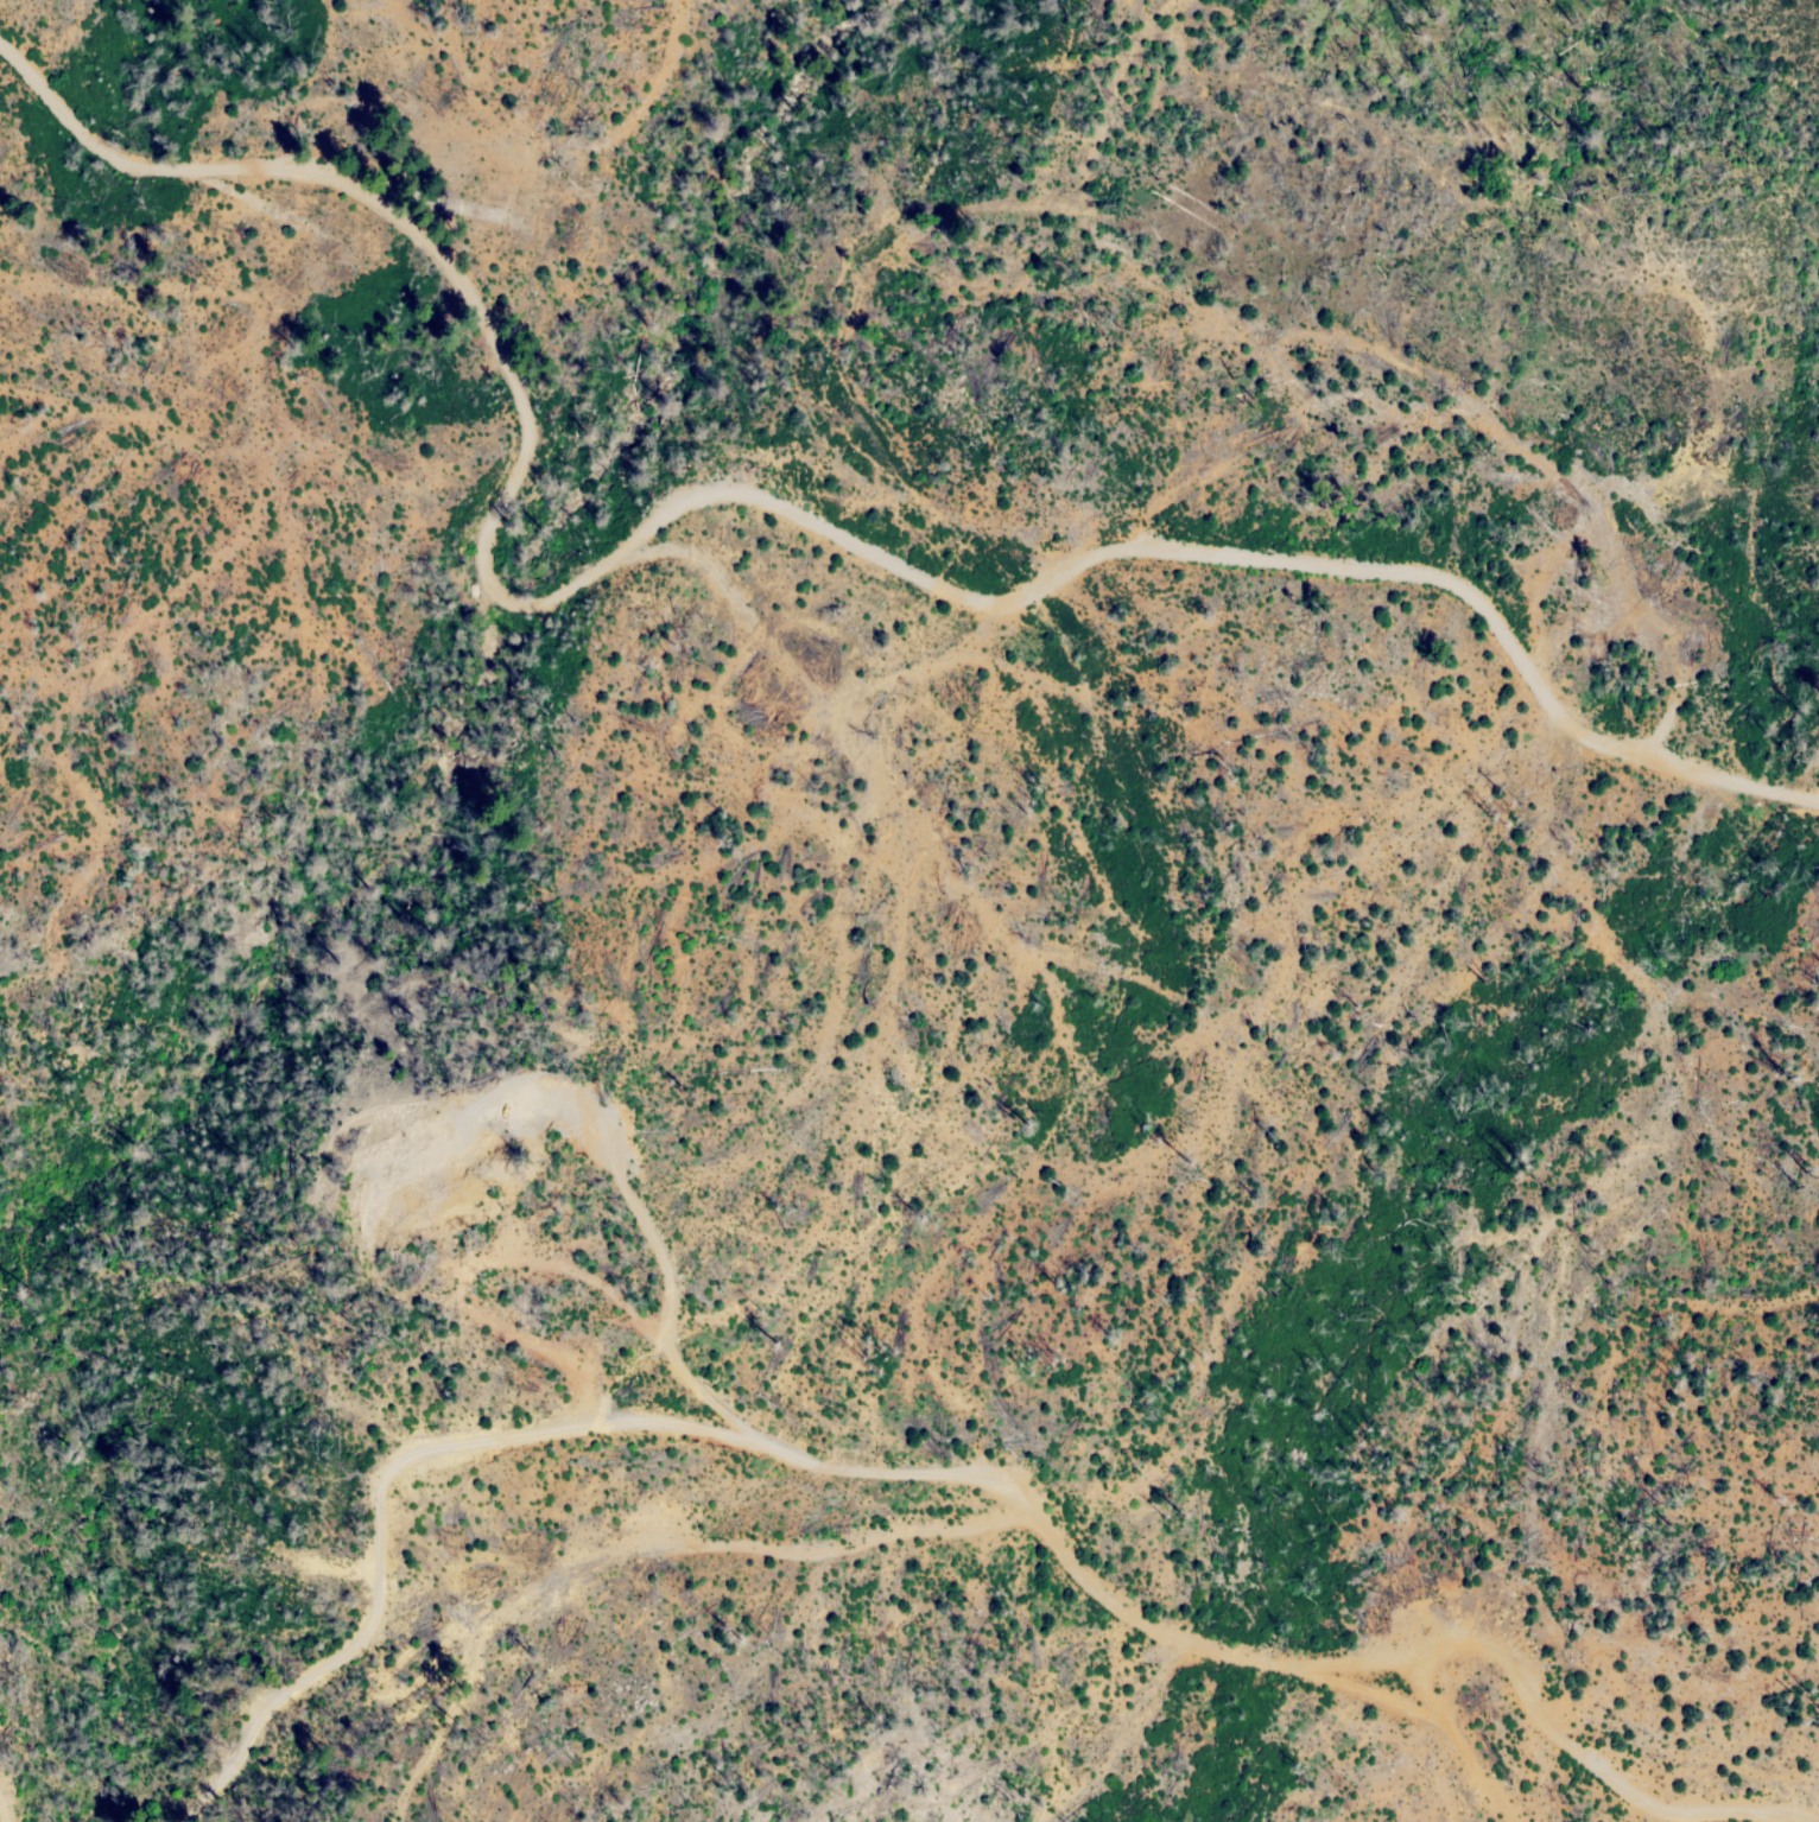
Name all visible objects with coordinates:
road: (763, 547)
road: (1222, 979)
road: (938, 1483)
road: (1462, 1740)
road: (1, 1817)

